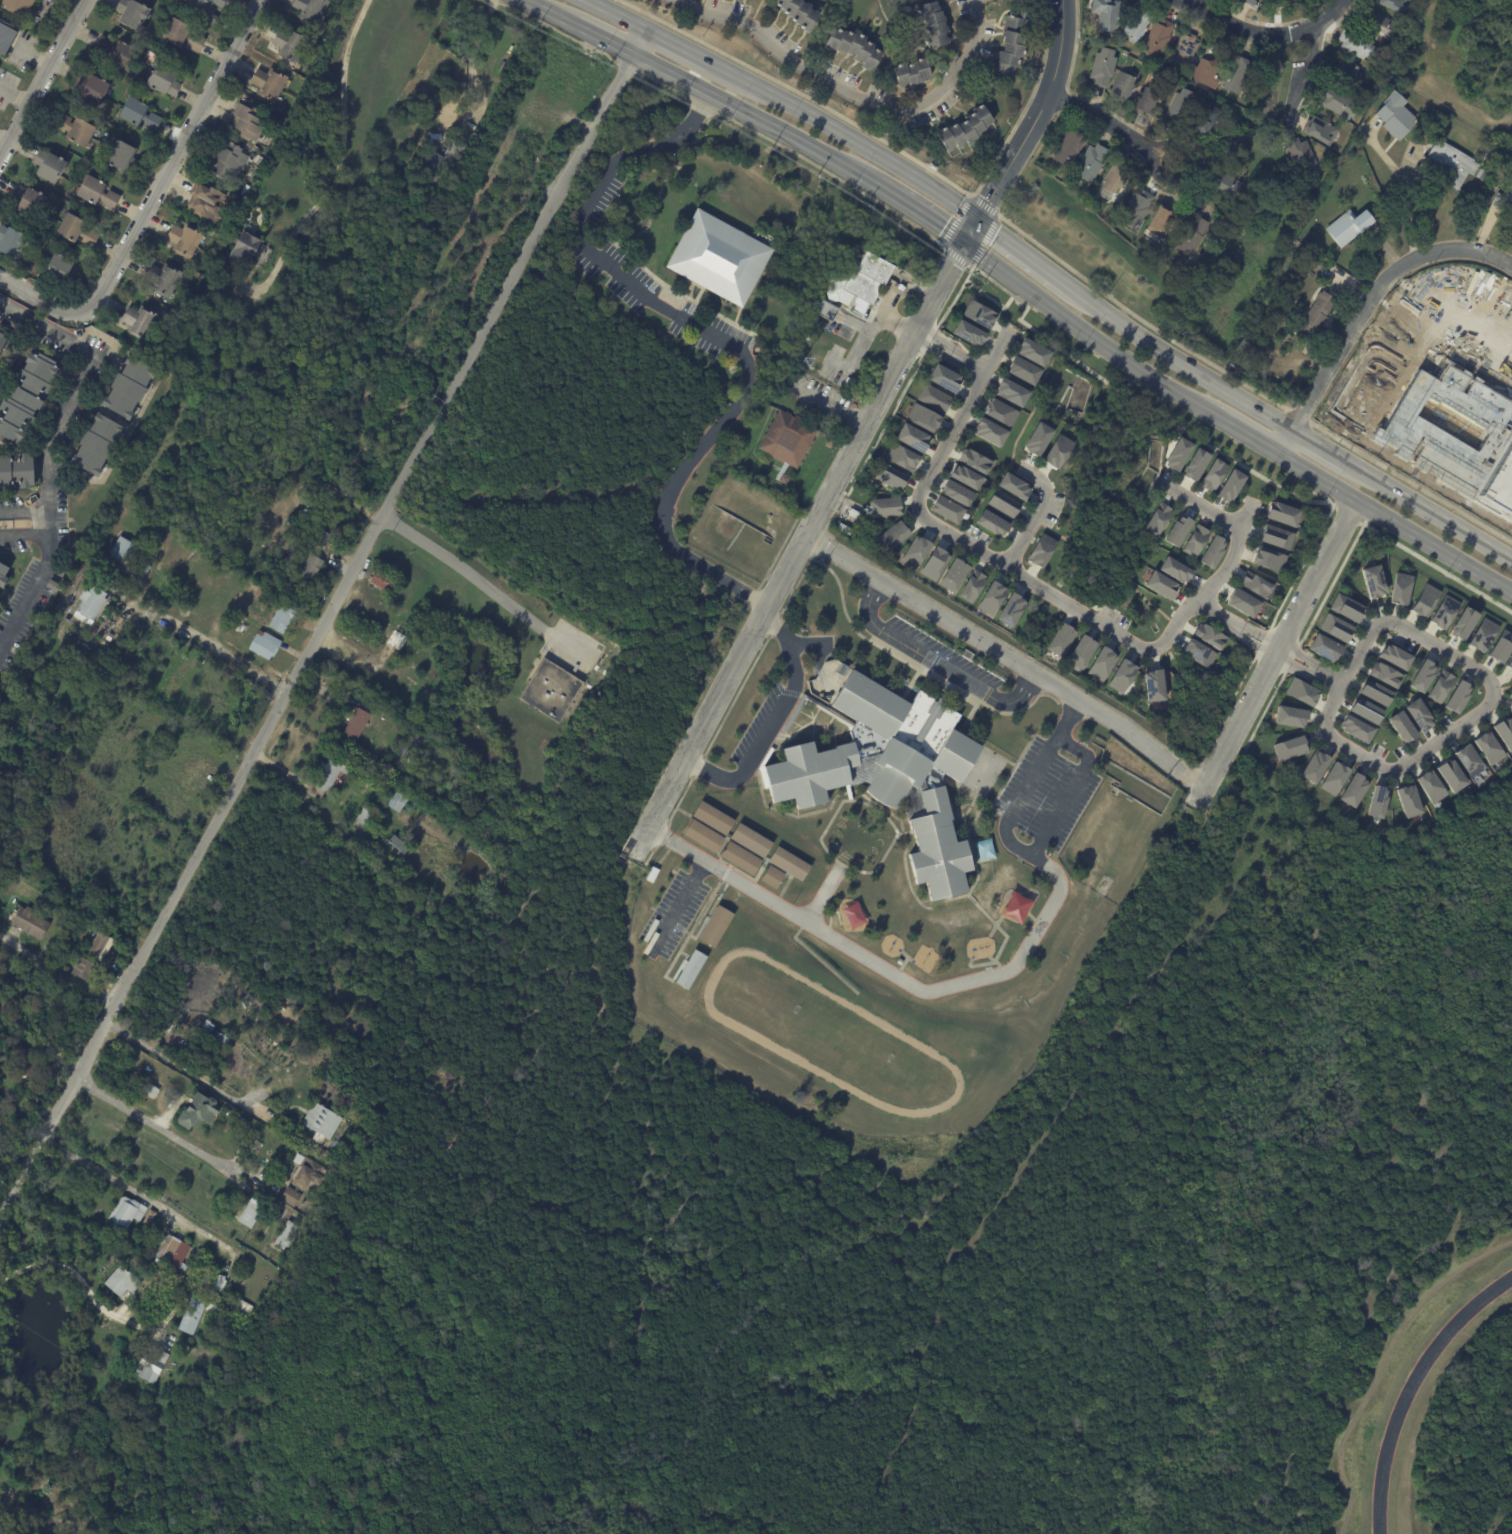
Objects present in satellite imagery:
road: (982, 0)
building: (1248, 2)
building: (1281, 4)
building: (17, 6)
building: (1394, 6)
building: (204, 8)
building: (310, 10)
road: (541, 10)
building: (798, 11)
building: (132, 13)
building: (1105, 15)
road: (615, 16)
road: (486, 20)
building: (931, 24)
building: (1377, 25)
building: (1135, 27)
building: (180, 35)
road: (1265, 35)
building: (5, 36)
road: (599, 38)
building: (1157, 40)
building: (1356, 45)
building: (289, 46)
building: (851, 46)
road: (679, 48)
building: (1011, 50)
building: (119, 53)
building: (1184, 54)
park: (1461, 61)
building: (1101, 69)
building: (911, 73)
road: (1055, 75)
building: (1203, 75)
building: (1349, 75)
building: (1236, 76)
building: (163, 79)
road: (44, 83)
building: (268, 83)
road: (1299, 83)
building: (1121, 85)
building: (90, 87)
road: (852, 94)
building: (426, 96)
building: (1148, 100)
building: (1337, 103)
building: (1180, 109)
building: (137, 114)
building: (1394, 116)
road: (758, 119)
building: (1204, 121)
building: (247, 122)
road: (1114, 126)
building: (966, 129)
building: (72, 130)
road: (437, 133)
building: (1322, 134)
road: (846, 137)
building: (1066, 150)
building: (1488, 154)
road: (177, 155)
building: (372, 156)
building: (121, 157)
building: (1353, 159)
building: (224, 160)
building: (446, 160)
building: (1303, 161)
building: (1091, 163)
building: (1447, 164)
building: (390, 165)
building: (48, 166)
building: (1482, 175)
road: (338, 178)
road: (999, 181)
building: (1111, 181)
building: (1223, 187)
building: (96, 192)
building: (1503, 197)
building: (30, 201)
building: (204, 202)
road: (1406, 204)
building: (1135, 211)
road: (919, 217)
traffic signals: (977, 219)
building: (1158, 224)
building: (1345, 225)
building: (75, 229)
road: (969, 232)
building: (1191, 237)
building: (183, 240)
building: (11, 241)
traffic signals: (961, 245)
building: (240, 249)
road: (1022, 252)
building: (715, 258)
building: (60, 269)
railway: (1035, 277)
building: (163, 280)
building: (859, 282)
road: (45, 304)
road: (1364, 308)
building: (825, 311)
building: (974, 314)
building: (1315, 315)
building: (138, 321)
building: (824, 324)
building: (962, 332)
road: (1085, 332)
road: (714, 336)
road: (939, 340)
building: (2, 341)
road: (932, 352)
building: (1027, 352)
road: (1177, 361)
road: (969, 363)
building: (1017, 370)
building: (938, 377)
building: (128, 387)
building: (1006, 392)
building: (25, 395)
building: (931, 398)
road: (830, 404)
building: (997, 412)
building: (920, 417)
building: (985, 432)
road: (1244, 436)
building: (907, 437)
building: (1456, 437)
building: (1033, 440)
building: (787, 443)
building: (96, 445)
road: (1320, 447)
road: (46, 449)
building: (1055, 450)
building: (1172, 454)
building: (899, 457)
building: (971, 461)
building: (1189, 464)
building: (16, 470)
building: (1208, 475)
building: (889, 476)
building: (962, 476)
building: (1009, 485)
building: (1225, 485)
building: (951, 493)
building: (1001, 505)
road: (1199, 505)
building: (882, 507)
building: (945, 509)
road: (23, 511)
road: (1430, 511)
road: (1037, 514)
building: (1277, 514)
building: (852, 515)
building: (1154, 519)
building: (988, 522)
road: (1394, 524)
building: (843, 530)
building: (1172, 530)
road: (23, 533)
building: (891, 535)
parking lot: (977, 536)
building: (327, 537)
building: (1272, 538)
building: (1192, 541)
road: (801, 549)
building: (1038, 550)
building: (152, 551)
building: (911, 551)
building: (1207, 551)
building: (126, 552)
building: (1266, 559)
building: (930, 562)
building: (303, 563)
building: (1170, 569)
building: (314, 571)
building: (3, 575)
building: (950, 575)
road: (1023, 578)
building: (1368, 580)
building: (387, 581)
building: (1155, 584)
building: (51, 585)
building: (969, 585)
building: (1252, 585)
building: (1396, 587)
building: (118, 588)
road: (484, 588)
building: (988, 598)
building: (133, 599)
building: (1421, 599)
building: (1237, 602)
building: (1342, 606)
building: (92, 608)
building: (1006, 608)
building: (1440, 610)
road: (1214, 614)
building: (240, 617)
building: (285, 618)
parking lot: (1117, 619)
building: (1458, 622)
building: (1332, 627)
road: (324, 633)
building: (1478, 633)
building: (1207, 636)
building: (90, 639)
building: (110, 639)
building: (1059, 639)
road: (1276, 642)
building: (1498, 644)
road: (807, 645)
building: (1319, 645)
building: (267, 646)
road: (1279, 647)
road: (219, 648)
building: (1078, 651)
building: (1195, 653)
road: (1270, 654)
building: (1389, 654)
building: (75, 655)
road: (1010, 658)
building: (1508, 659)
building: (1099, 663)
road: (938, 664)
road: (1320, 670)
building: (839, 671)
building: (1380, 672)
road: (1318, 674)
building: (1118, 675)
building: (1417, 675)
road: (1333, 679)
road: (1490, 684)
building: (1151, 685)
building: (1436, 685)
building: (211, 690)
building: (552, 690)
building: (1297, 690)
building: (1368, 690)
building: (1454, 695)
building: (1509, 702)
building: (181, 705)
building: (1360, 708)
building: (1414, 714)
building: (1286, 715)
road: (773, 722)
building: (358, 724)
building: (1397, 724)
building: (1352, 727)
building: (1502, 731)
building: (1486, 746)
building: (1285, 747)
building: (410, 756)
building: (1467, 759)
building: (1309, 765)
road: (279, 771)
building: (359, 772)
building: (891, 772)
building: (1449, 773)
building: (329, 777)
building: (1330, 777)
building: (191, 778)
building: (1430, 785)
building: (1349, 789)
road: (1071, 793)
building: (1405, 799)
building: (1373, 800)
building: (397, 801)
building: (368, 816)
building: (711, 820)
building: (700, 837)
building: (748, 843)
building: (402, 845)
building: (738, 860)
building: (786, 866)
building: (651, 875)
building: (770, 879)
road: (824, 895)
road: (677, 905)
building: (1014, 907)
building: (51, 908)
building: (852, 916)
building: (32, 924)
building: (715, 928)
building: (101, 948)
building: (900, 962)
building: (690, 969)
building: (85, 970)
road: (66, 976)
road: (973, 982)
building: (30, 1063)
road: (187, 1071)
building: (152, 1090)
building: (199, 1112)
building: (323, 1122)
road: (173, 1139)
building: (311, 1173)
road: (119, 1187)
building: (292, 1197)
building: (312, 1203)
building: (311, 1212)
building: (129, 1213)
building: (254, 1213)
building: (151, 1218)
road: (2, 1222)
building: (289, 1236)
building: (175, 1253)
road: (87, 1281)
building: (125, 1282)
building: (218, 1283)
building: (223, 1284)
building: (245, 1308)
building: (216, 1310)
building: (195, 1316)
building: (154, 1366)
road: (1411, 1389)

